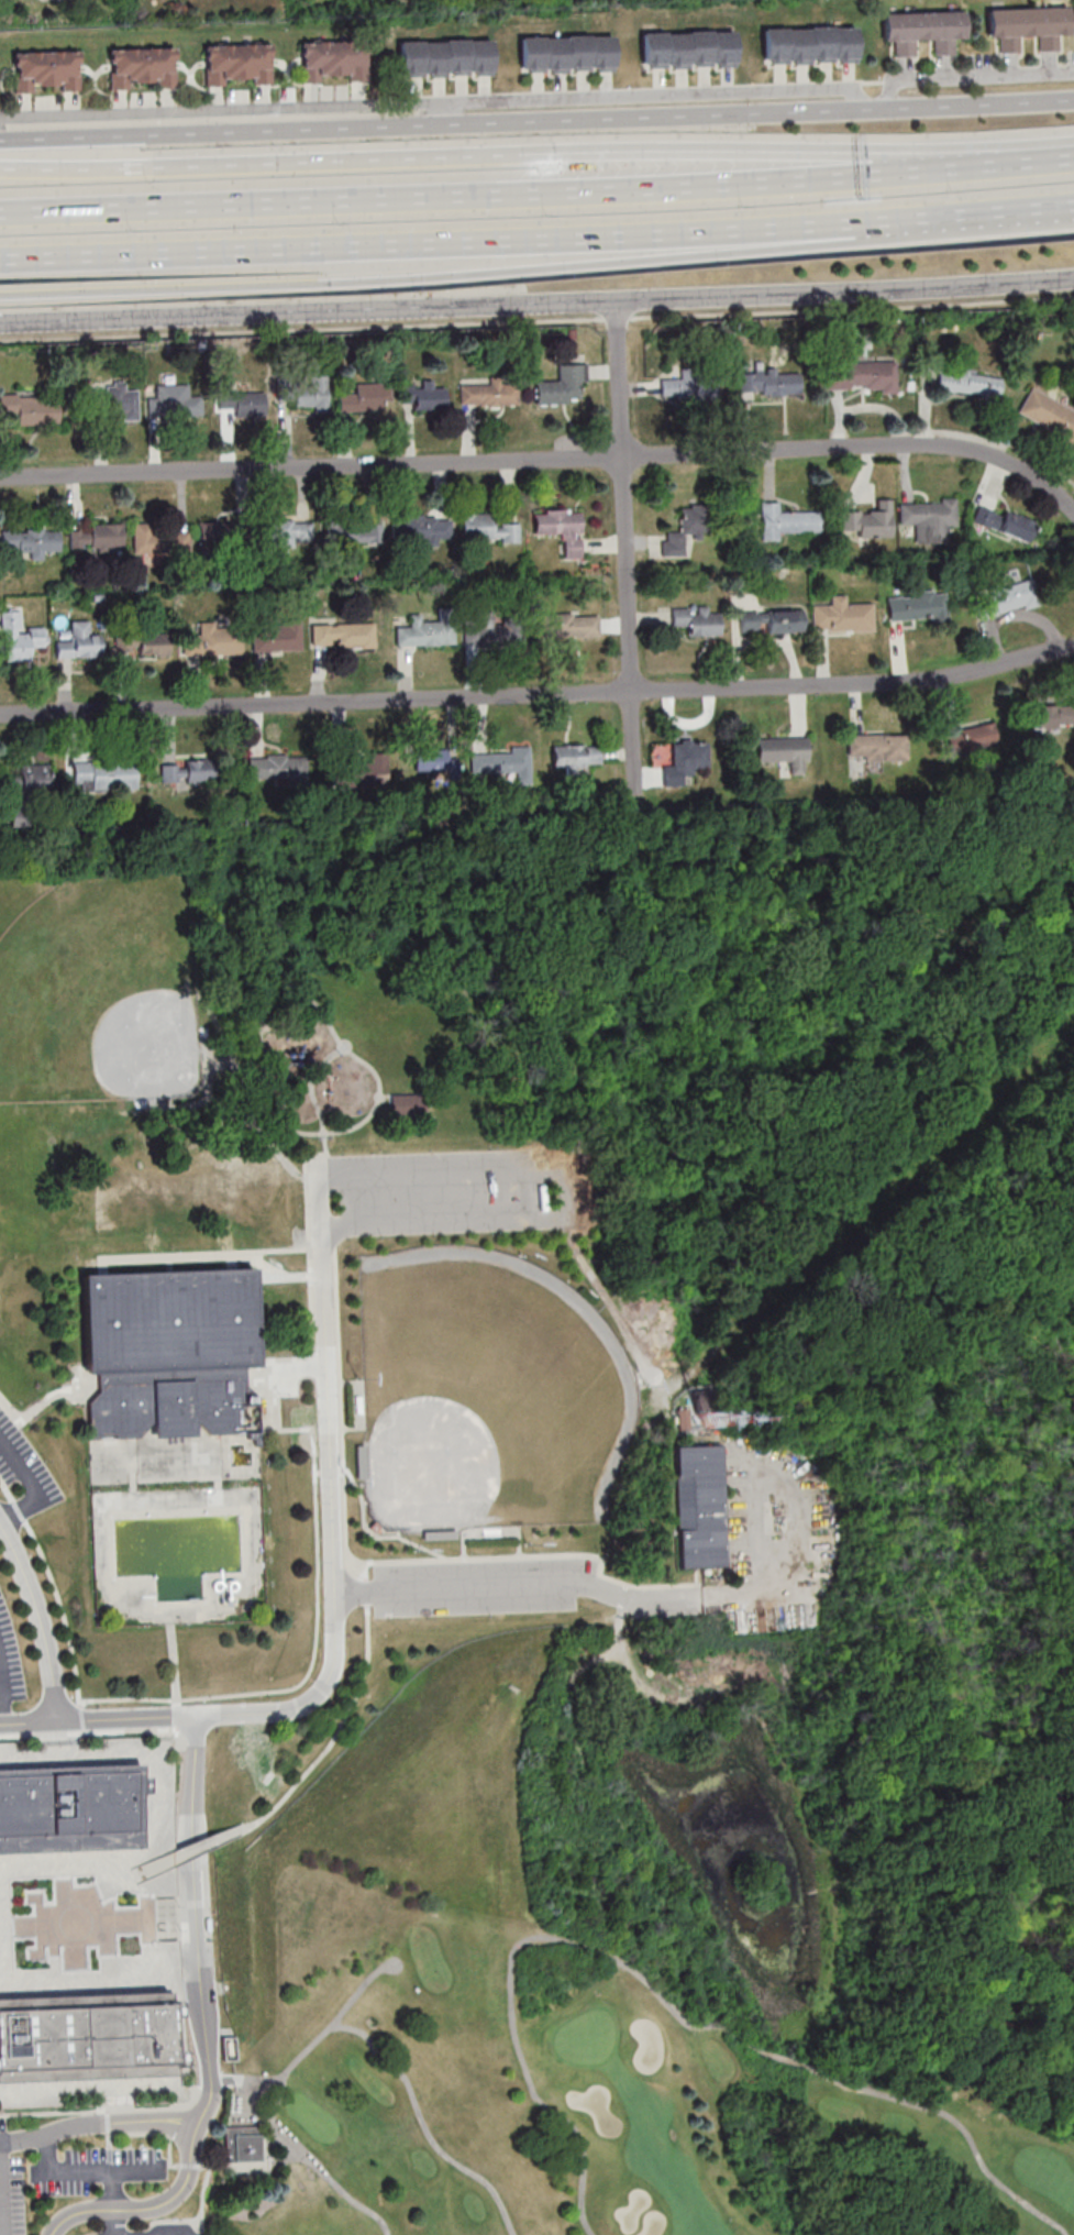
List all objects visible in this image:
building: (1029, 26)
building: (923, 31)
building: (809, 45)
building: (688, 49)
building: (567, 53)
building: (445, 58)
building: (333, 60)
building: (237, 64)
building: (143, 67)
building: (46, 70)
road: (968, 75)
road: (649, 95)
road: (222, 110)
road: (536, 123)
road: (536, 153)
road: (1041, 161)
road: (503, 194)
road: (1012, 210)
road: (912, 219)
road: (438, 243)
road: (477, 274)
road: (536, 302)
road: (536, 320)
building: (862, 376)
road: (620, 377)
building: (771, 382)
building: (971, 385)
building: (562, 386)
building: (688, 388)
building: (308, 394)
building: (489, 395)
building: (424, 396)
building: (364, 397)
building: (175, 401)
building: (242, 403)
building: (117, 404)
building: (32, 408)
building: (1048, 416)
road: (547, 458)
building: (929, 519)
building: (786, 521)
building: (868, 521)
building: (1003, 522)
building: (421, 529)
building: (487, 529)
building: (561, 529)
building: (683, 531)
building: (288, 533)
building: (353, 533)
building: (98, 537)
building: (215, 538)
building: (162, 540)
building: (31, 541)
building: (1007, 598)
building: (918, 606)
building: (842, 616)
building: (698, 620)
building: (771, 620)
road: (629, 624)
building: (569, 625)
building: (425, 632)
building: (495, 632)
building: (276, 636)
building: (343, 636)
building: (20, 638)
building: (215, 640)
building: (80, 642)
building: (144, 643)
road: (539, 695)
building: (1051, 715)
building: (972, 738)
building: (876, 748)
building: (784, 751)
building: (577, 756)
building: (430, 760)
building: (685, 761)
building: (506, 762)
building: (280, 769)
building: (188, 771)
building: (363, 772)
building: (104, 775)
building: (34, 777)
building: (22, 816)
building: (970, 855)
road: (552, 934)
park: (101, 992)
road: (311, 1003)
road: (776, 1020)
road: (225, 1050)
road: (311, 1097)
building: (408, 1108)
road: (232, 1109)
building: (240, 1134)
parking lot: (460, 1192)
road: (561, 1194)
road: (867, 1204)
building: (135, 1209)
road: (199, 1220)
road: (203, 1256)
road: (608, 1260)
road: (590, 1263)
road: (231, 1264)
road: (288, 1278)
road: (614, 1313)
building: (171, 1354)
stadium: (171, 1354)
road: (289, 1395)
park: (487, 1395)
building: (701, 1401)
road: (43, 1403)
park: (536, 1417)
building: (684, 1421)
road: (828, 1428)
park: (239, 1454)
building: (359, 1461)
parking lot: (25, 1468)
road: (31, 1487)
building: (702, 1508)
building: (438, 1534)
stadium: (490, 1534)
parking lot: (480, 1588)
road: (335, 1595)
road: (56, 1597)
road: (696, 1598)
road: (38, 1621)
road: (317, 1653)
parking lot: (10, 1669)
road: (174, 1671)
road: (1, 1704)
road: (943, 1713)
road: (352, 1716)
road: (97, 1731)
building: (74, 1810)
road: (618, 1825)
road: (821, 1840)
road: (195, 1854)
road: (120, 1884)
road: (171, 1895)
road: (93, 1915)
road: (185, 1917)
parking lot: (157, 1918)
road: (502, 1956)
road: (1056, 1991)
road: (213, 2019)
road: (324, 2035)
building: (90, 2038)
park: (550, 2040)
road: (785, 2060)
road: (228, 2080)
road: (109, 2107)
road: (111, 2107)
road: (243, 2115)
road: (108, 2121)
road: (955, 2121)
road: (425, 2125)
road: (157, 2126)
road: (110, 2140)
building: (241, 2144)
road: (176, 2166)
parking lot: (91, 2170)
road: (85, 2171)
road: (231, 2173)
road: (333, 2184)
road: (1, 2188)
parking lot: (11, 2189)
road: (112, 2203)
road: (158, 2206)

